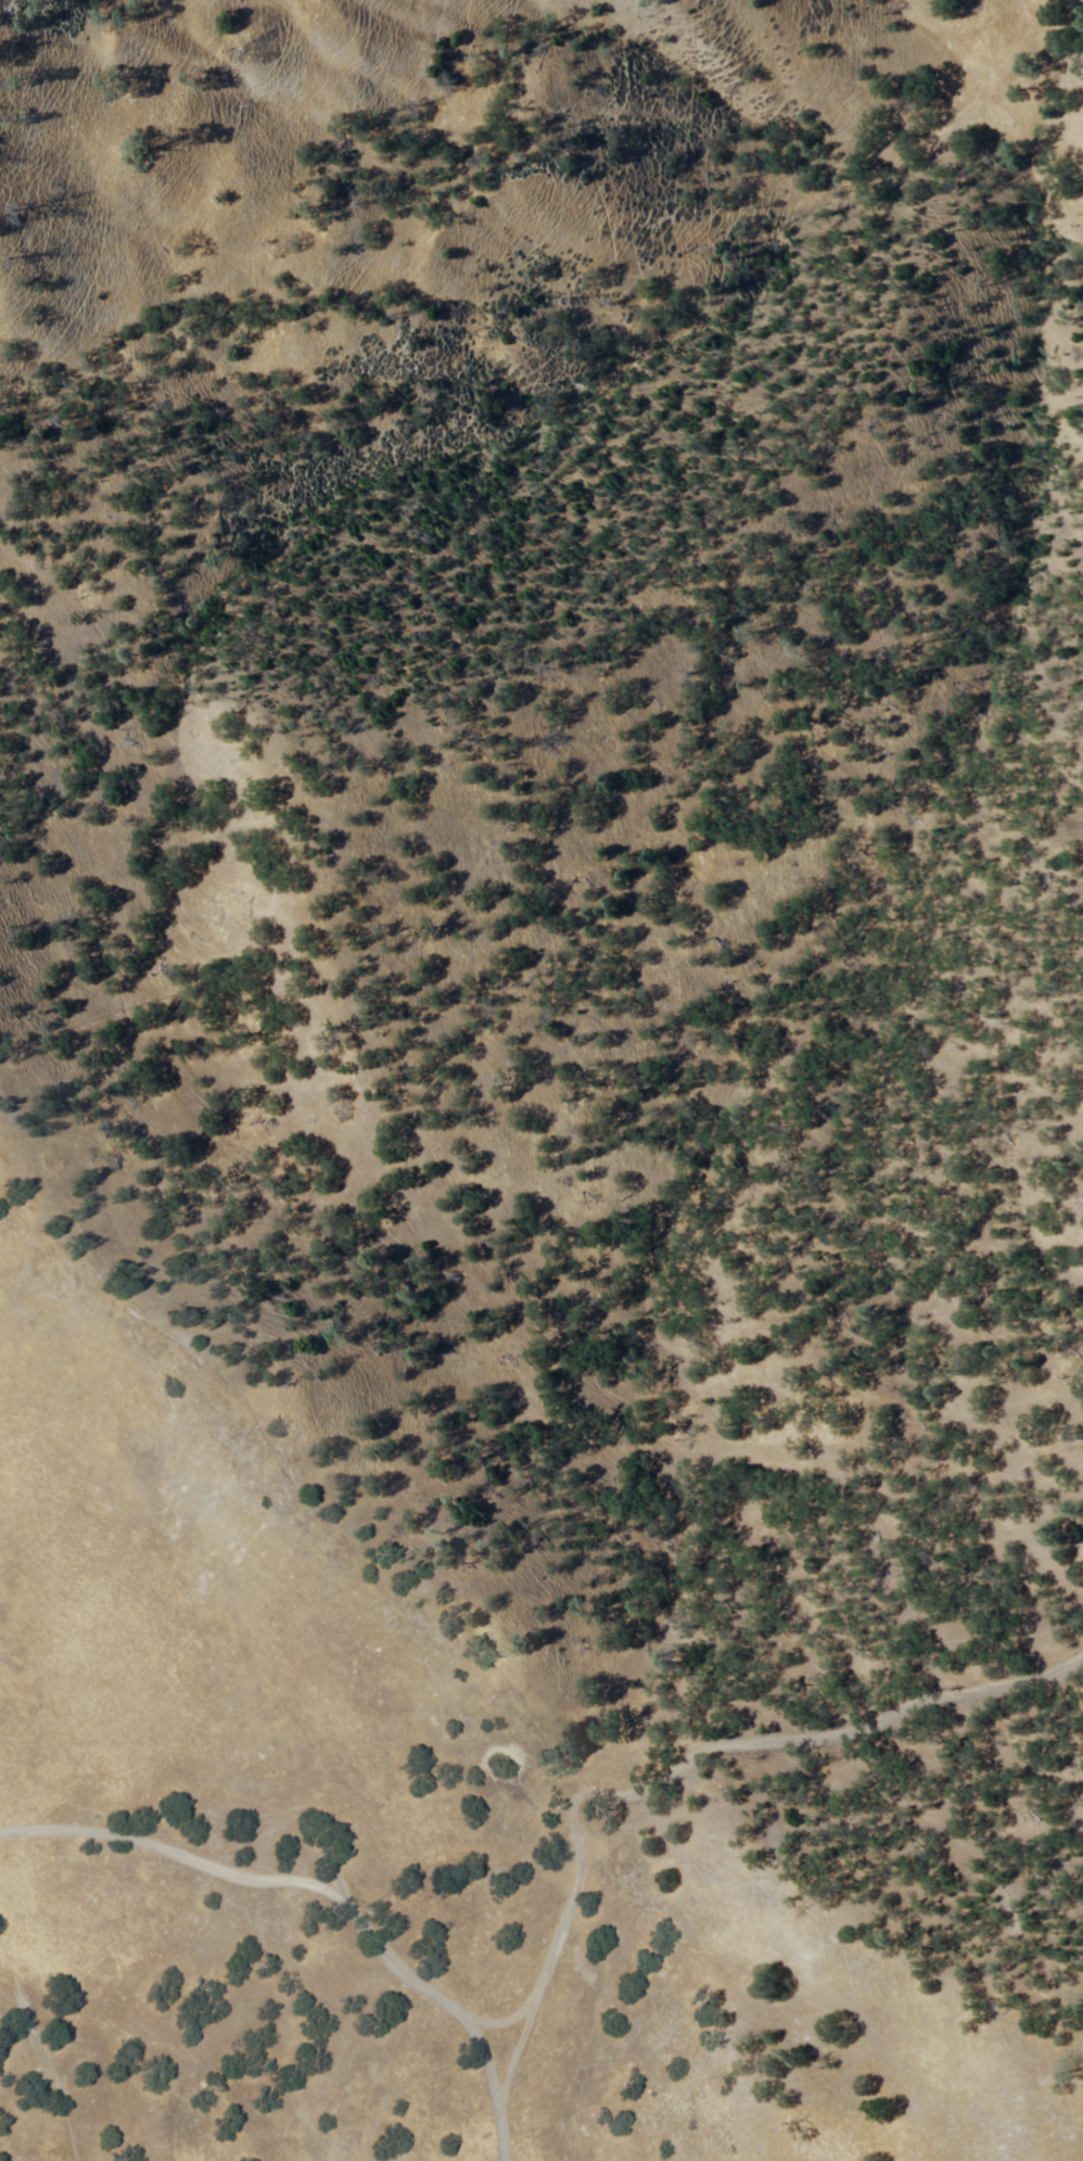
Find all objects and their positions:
road: (482, 1576)
road: (307, 1877)

